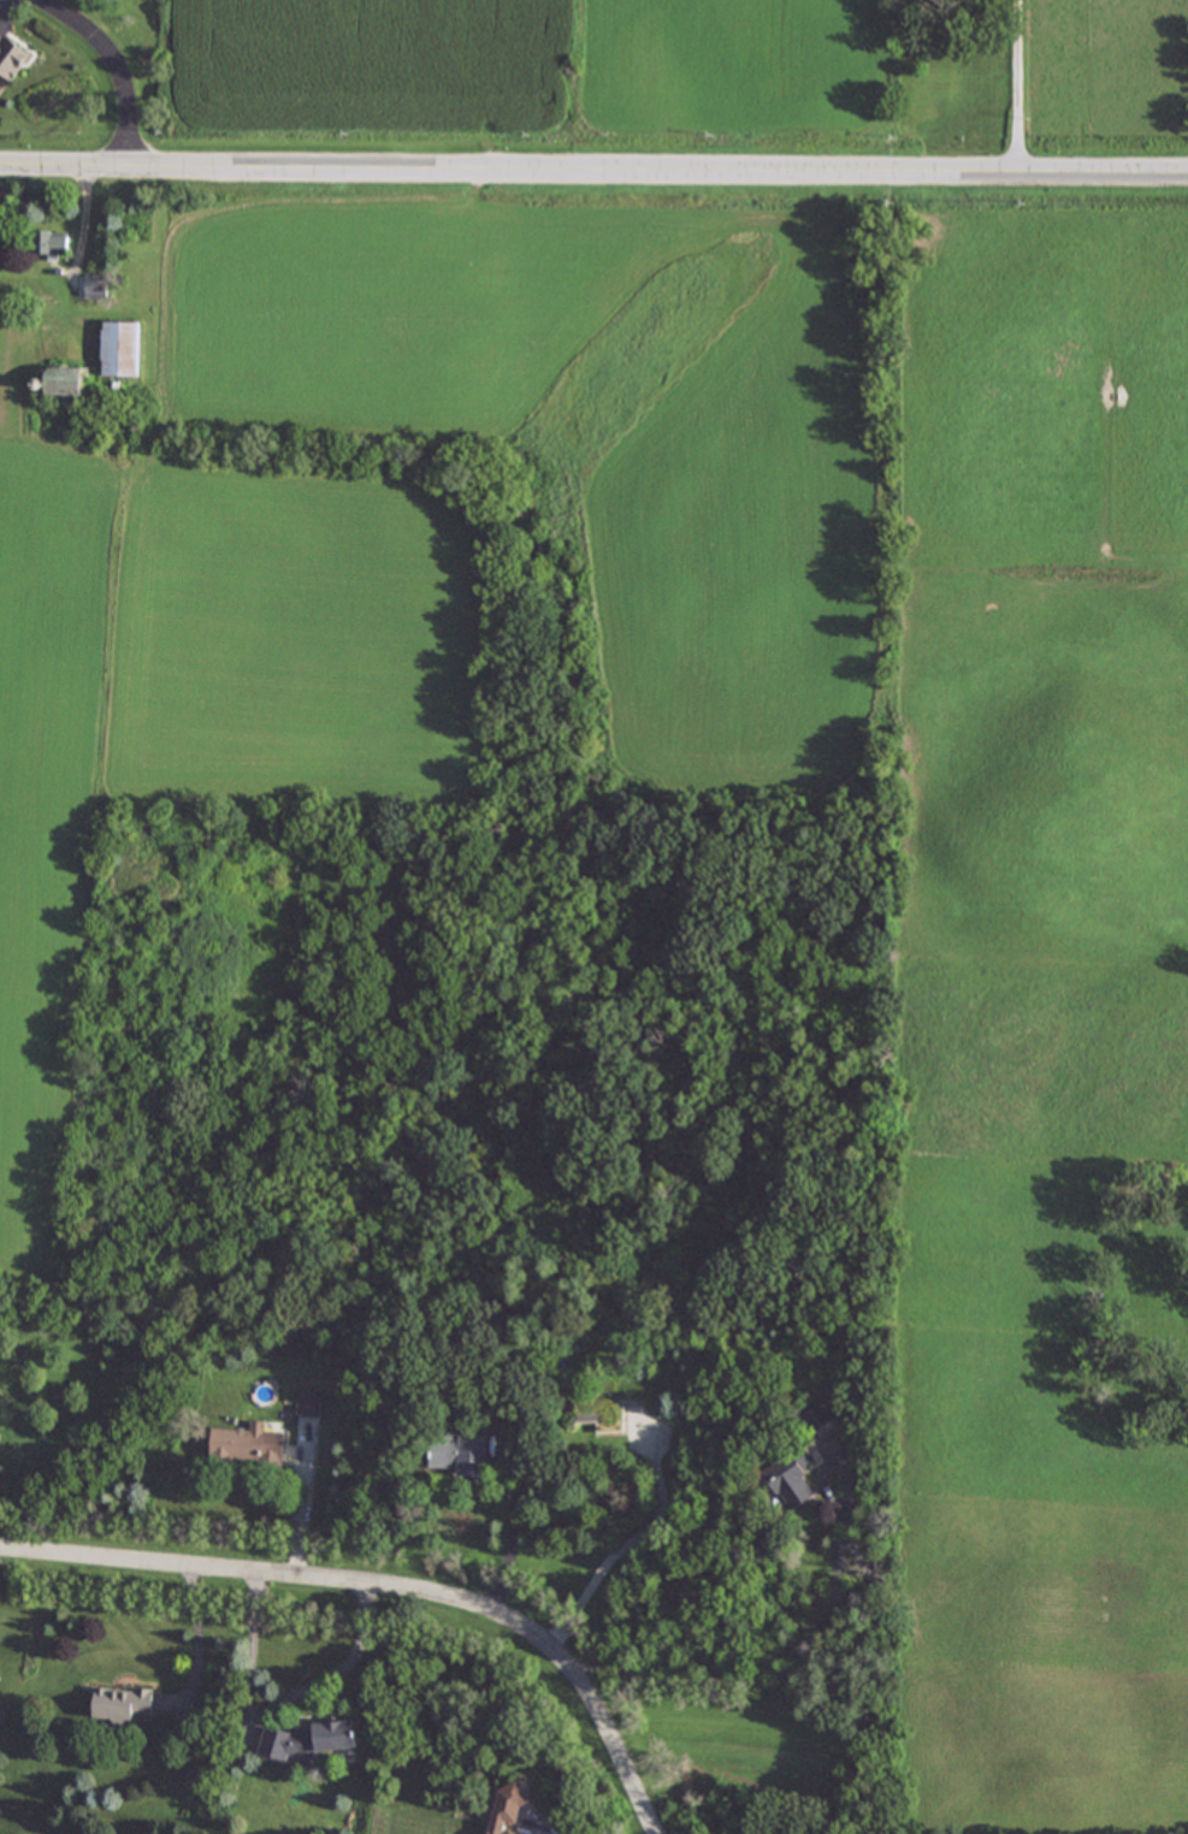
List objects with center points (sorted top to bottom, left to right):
building: (11, 58)
road: (116, 66)
road: (1018, 88)
road: (593, 173)
building: (51, 242)
building: (93, 285)
building: (119, 349)
building: (63, 380)
building: (307, 1404)
building: (816, 1416)
building: (247, 1444)
building: (455, 1454)
building: (792, 1477)
road: (507, 1538)
road: (623, 1544)
road: (388, 1585)
road: (197, 1638)
road: (810, 1666)
road: (285, 1698)
building: (120, 1704)
building: (311, 1739)
building: (507, 1808)
road: (552, 1828)

